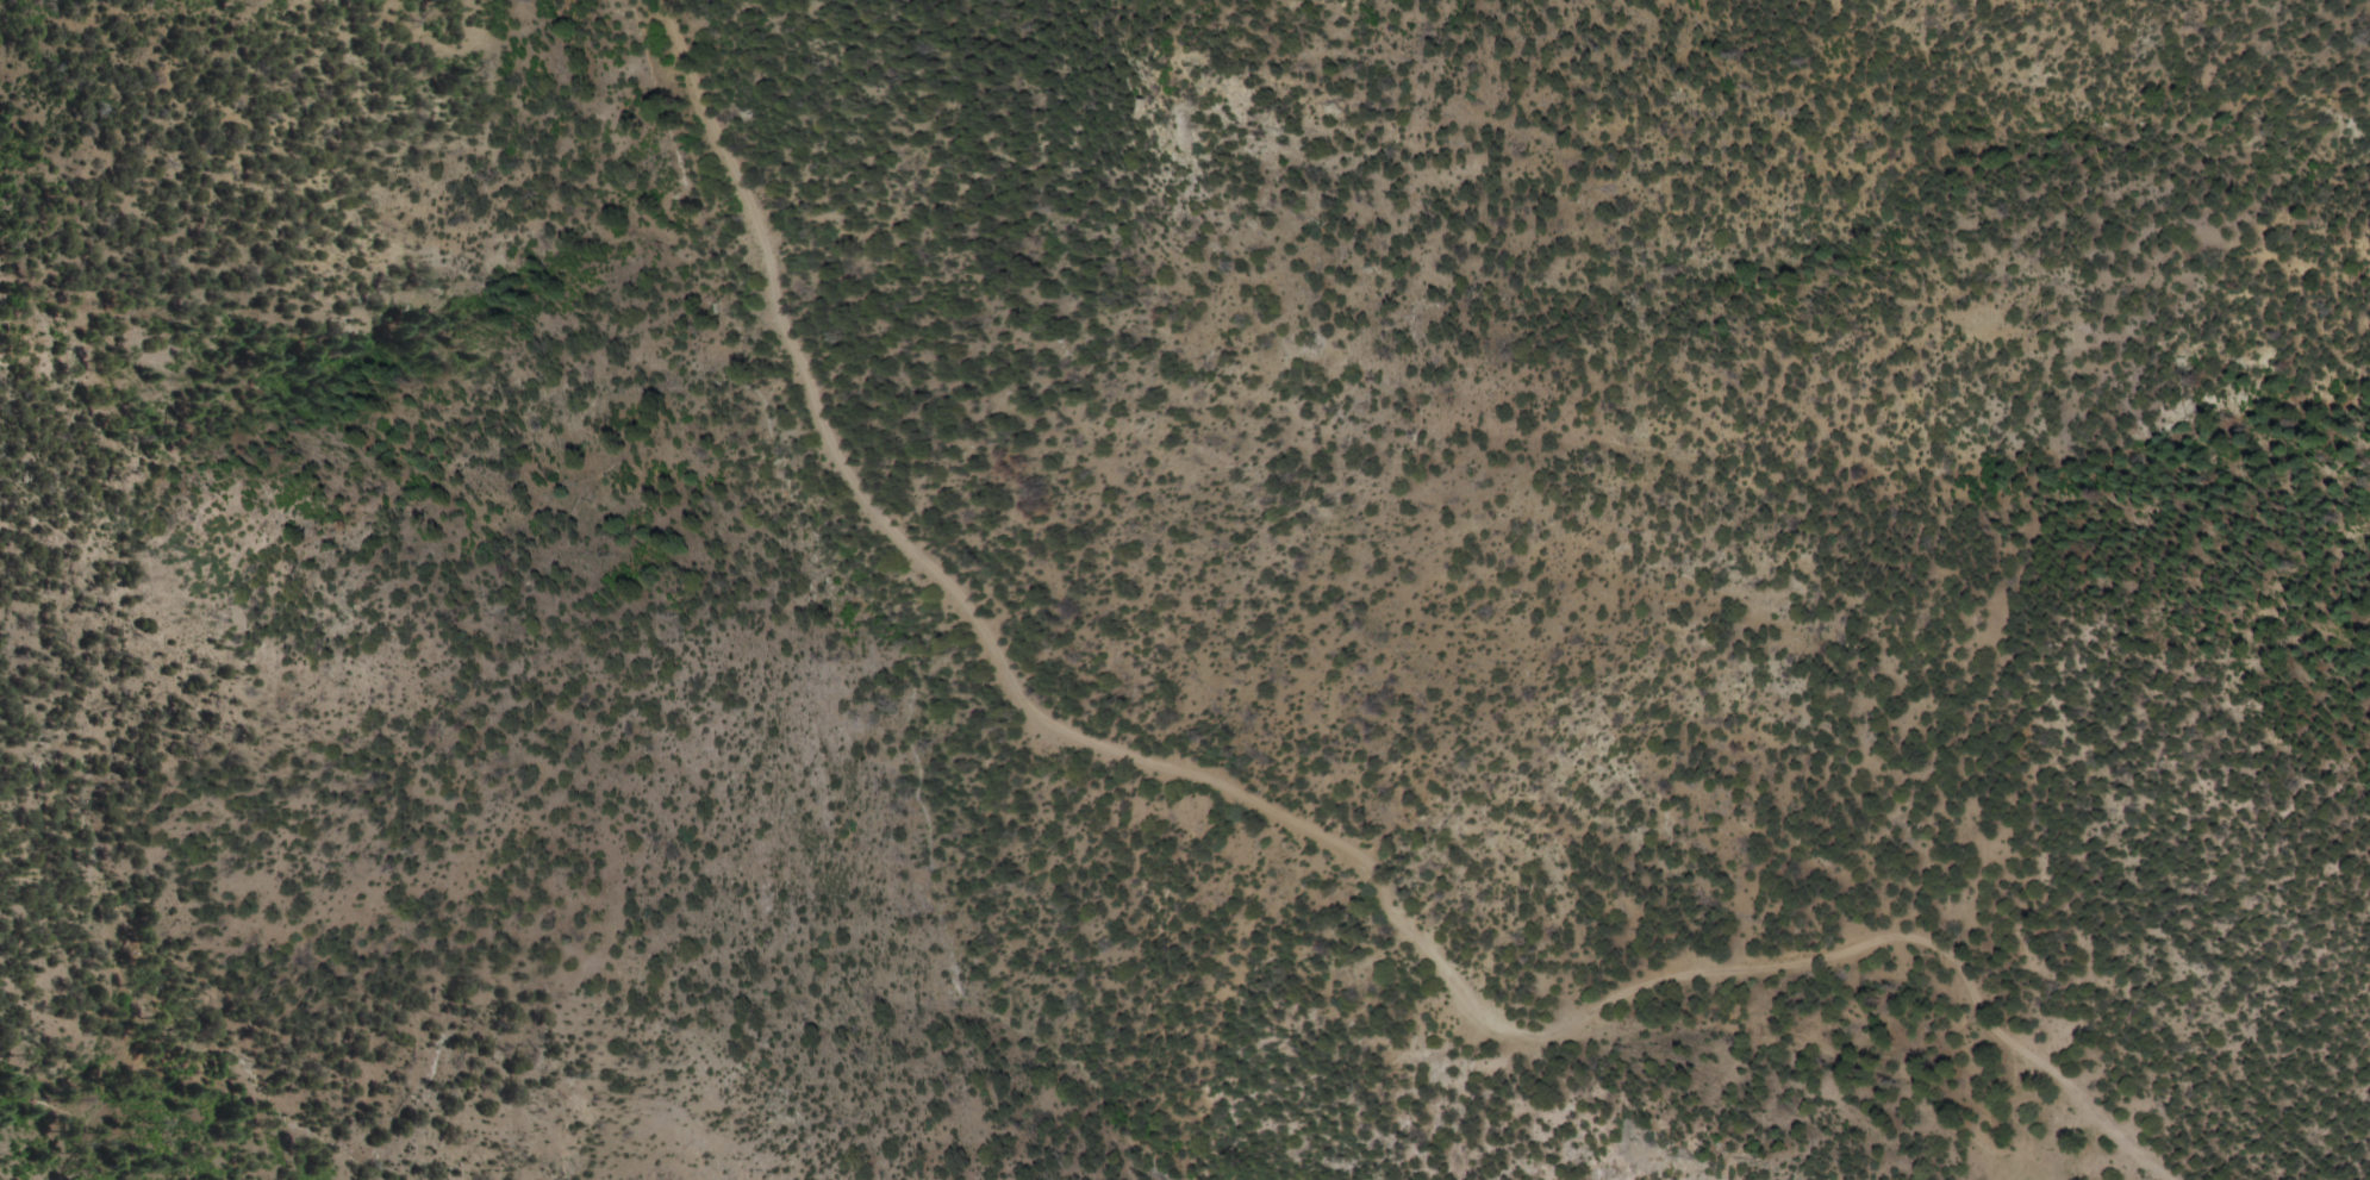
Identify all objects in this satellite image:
road: (1976, 794)
road: (1286, 818)

